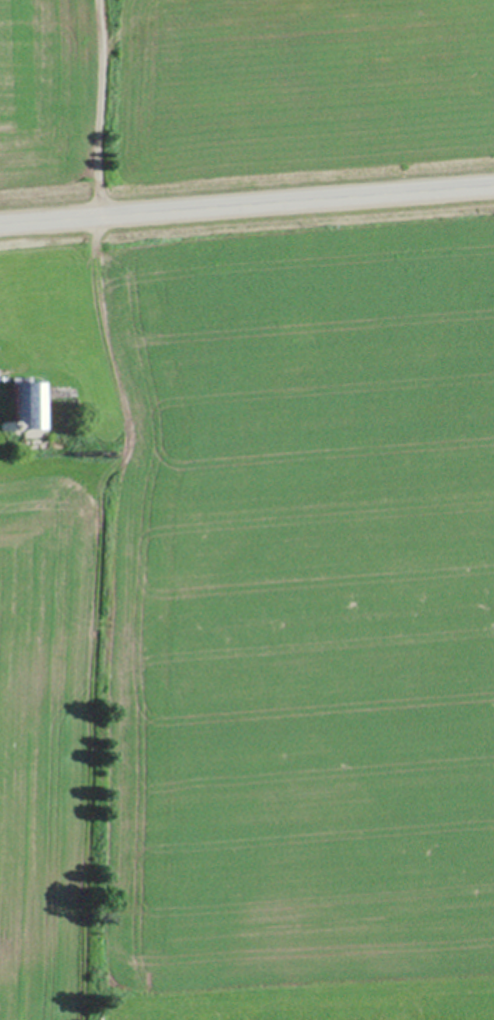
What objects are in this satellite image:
crop: (298, 89)
crop: (56, 96)
road: (247, 203)
building: (24, 402)
building: (4, 423)
crop: (258, 637)

